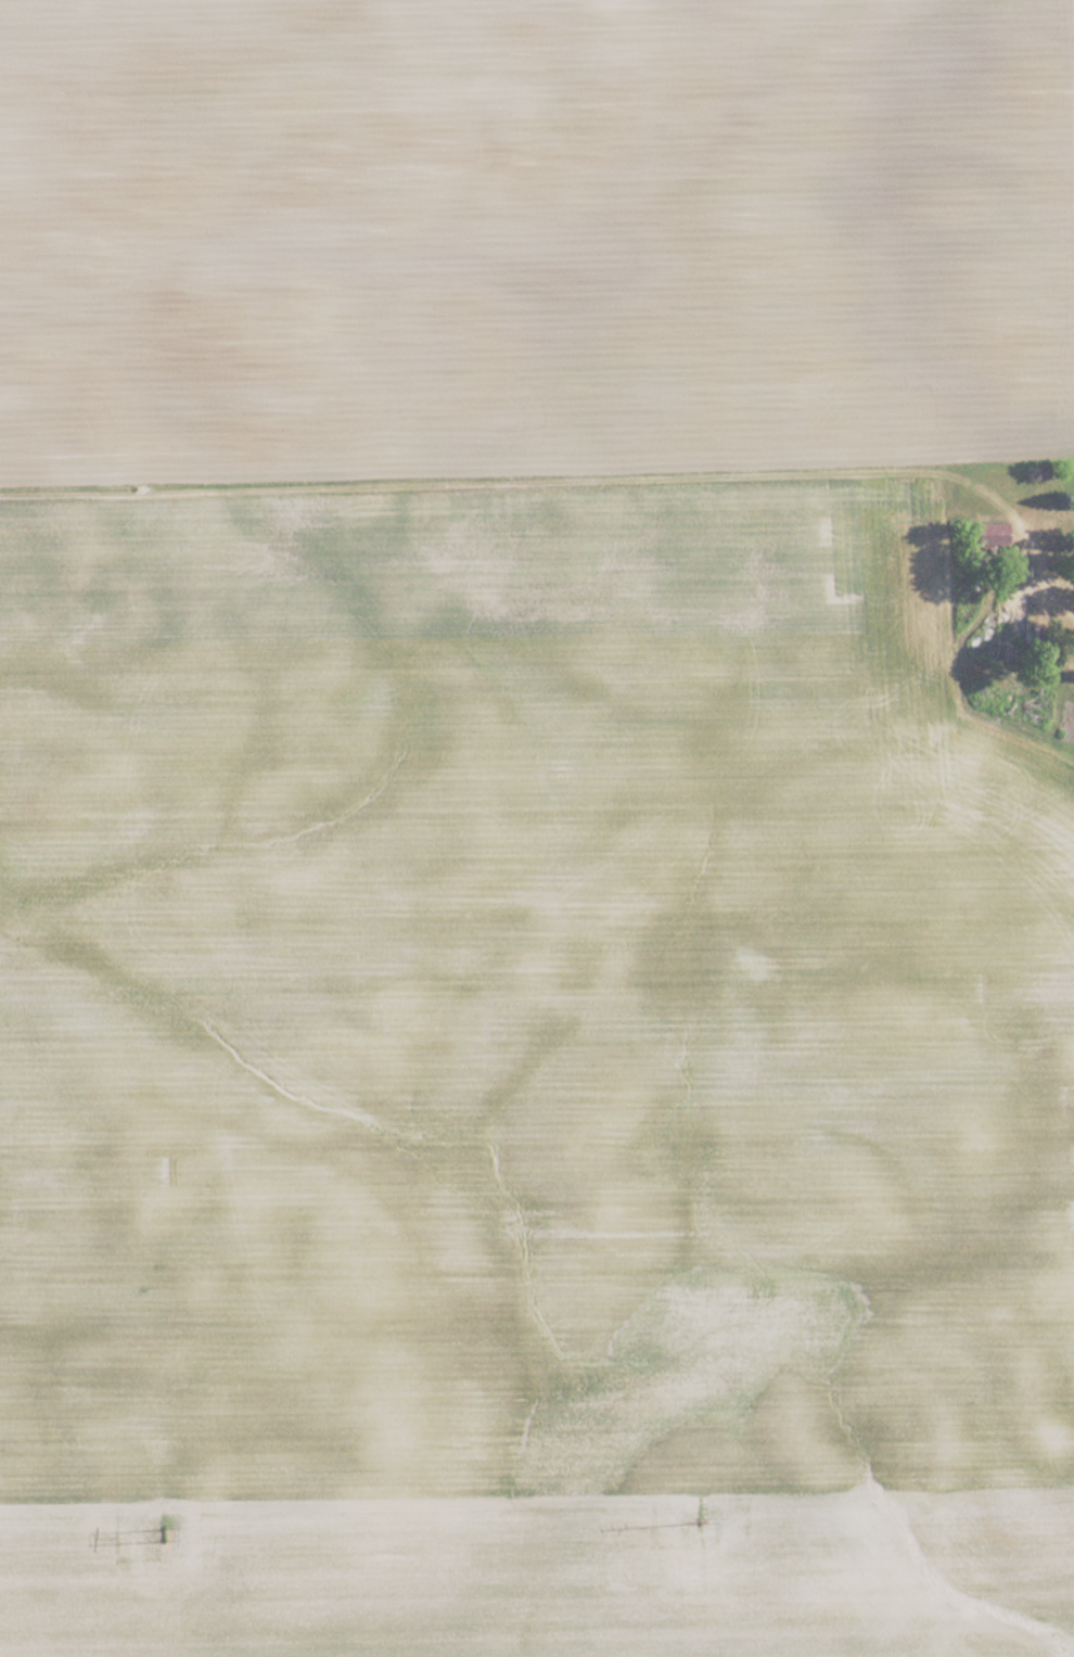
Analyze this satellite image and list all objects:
building: (987, 534)
power tower: (699, 1525)
power tower: (167, 1535)

